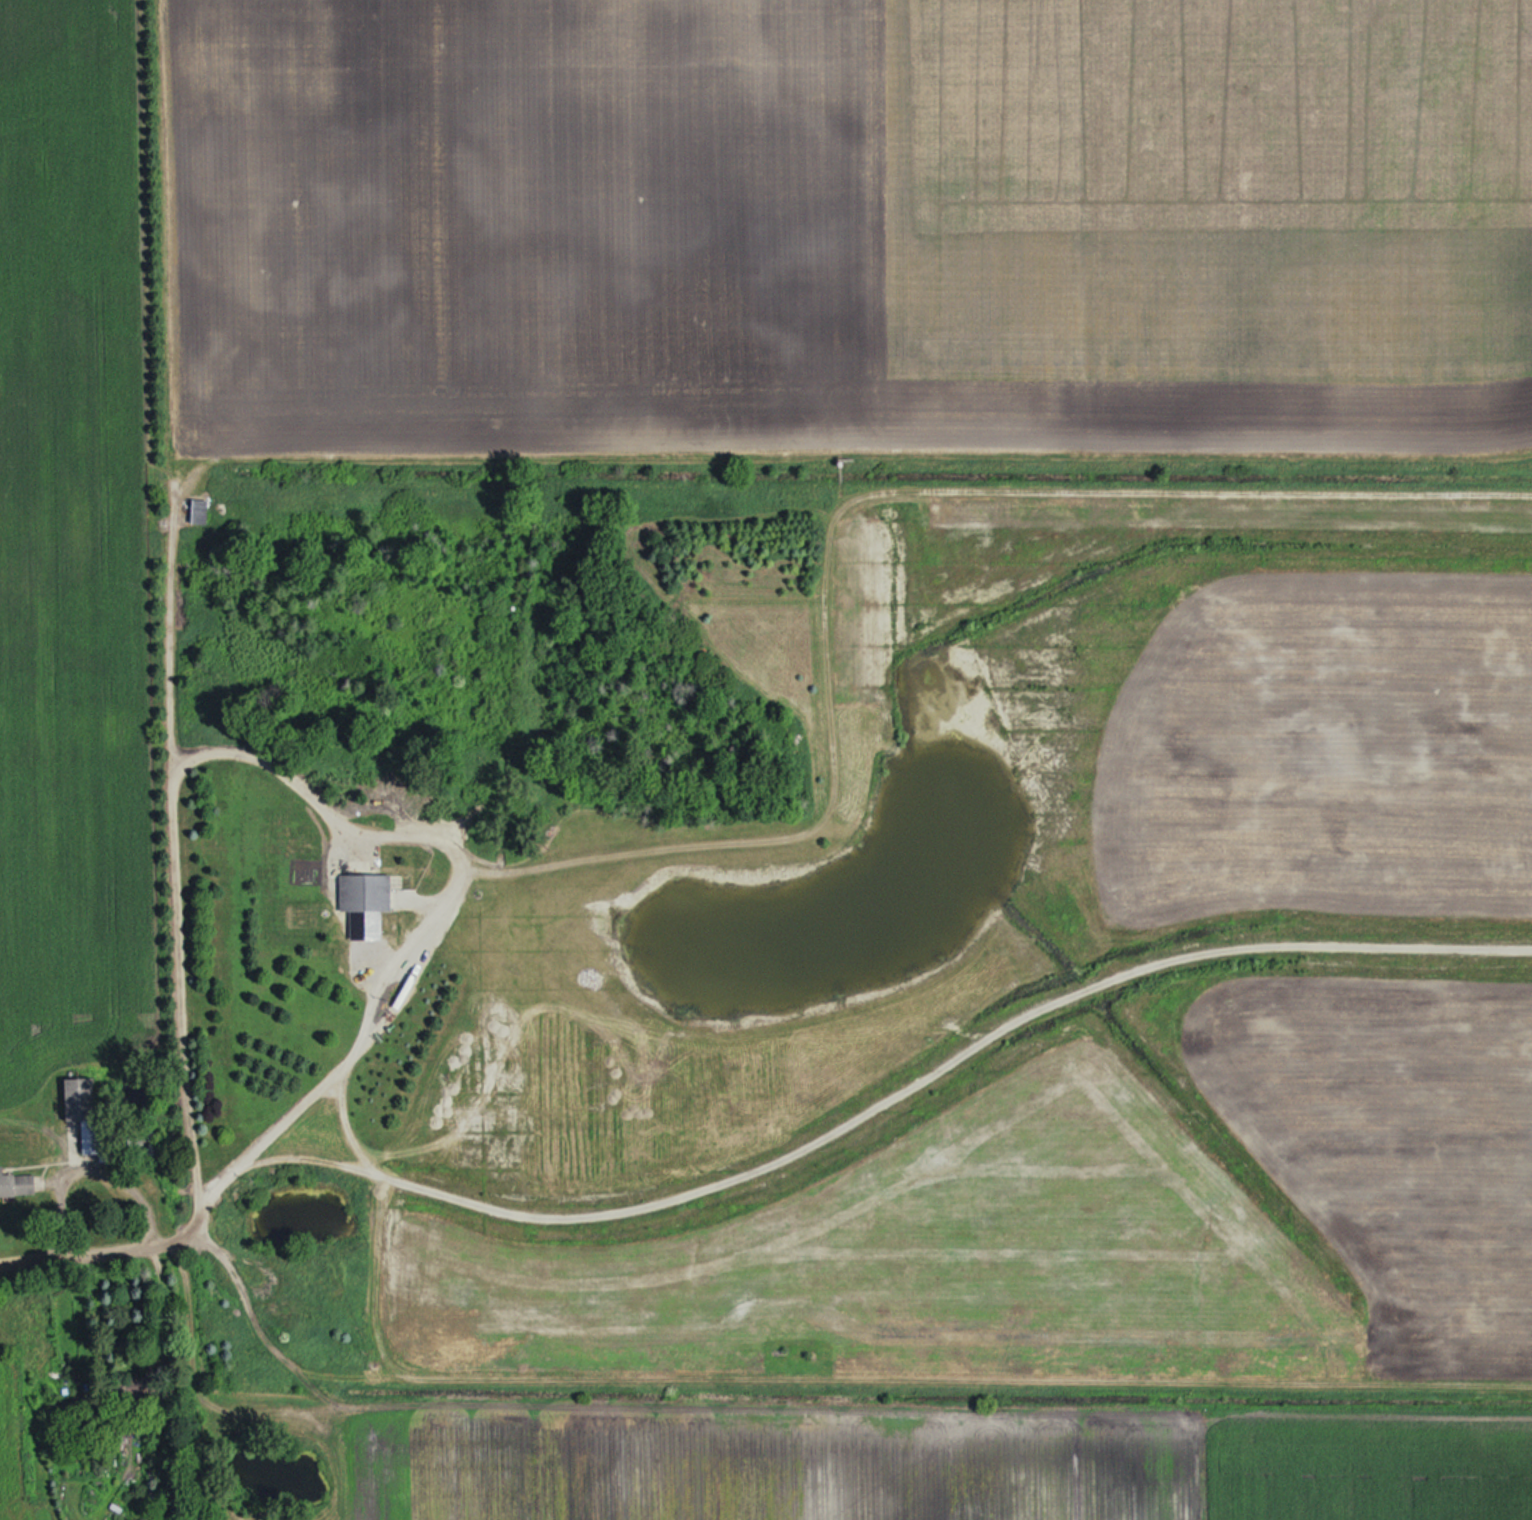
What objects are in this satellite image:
building: (200, 513)
road: (171, 636)
road: (328, 807)
building: (366, 903)
building: (87, 1111)
building: (19, 1184)
road: (94, 1243)

